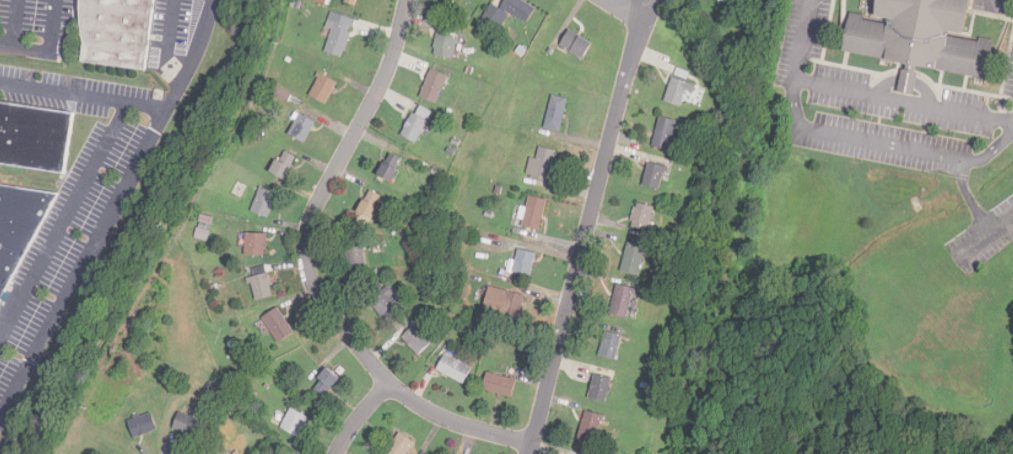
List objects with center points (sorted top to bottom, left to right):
building: (328, 2)
building: (352, 2)
building: (299, 4)
building: (519, 9)
road: (622, 10)
road: (997, 10)
building: (452, 13)
building: (458, 19)
road: (16, 28)
building: (119, 31)
building: (338, 38)
building: (921, 38)
building: (577, 45)
building: (445, 46)
building: (551, 51)
road: (196, 54)
building: (285, 67)
building: (434, 87)
road: (84, 88)
building: (323, 89)
road: (865, 91)
building: (677, 93)
building: (253, 98)
building: (722, 102)
building: (556, 114)
building: (303, 129)
building: (415, 129)
building: (665, 134)
building: (35, 138)
building: (253, 142)
road: (886, 144)
building: (452, 150)
building: (543, 165)
building: (283, 166)
building: (390, 170)
building: (435, 171)
building: (654, 176)
building: (499, 191)
road: (968, 199)
building: (264, 203)
building: (370, 206)
building: (533, 214)
building: (490, 215)
road: (65, 217)
building: (643, 217)
building: (388, 221)
building: (203, 225)
road: (587, 226)
building: (19, 228)
building: (690, 229)
building: (201, 233)
road: (985, 238)
building: (256, 245)
building: (357, 257)
building: (634, 260)
road: (83, 262)
building: (525, 263)
road: (308, 272)
building: (480, 275)
building: (261, 287)
building: (55, 294)
building: (384, 299)
building: (622, 302)
building: (492, 304)
building: (410, 306)
building: (514, 306)
building: (278, 325)
building: (416, 341)
building: (611, 346)
building: (471, 366)
building: (454, 370)
building: (327, 383)
building: (499, 386)
building: (645, 386)
building: (267, 388)
building: (600, 389)
road: (359, 416)
building: (295, 423)
building: (647, 423)
building: (143, 426)
building: (190, 427)
building: (590, 429)
building: (644, 434)
building: (78, 442)
building: (402, 446)
building: (107, 450)
building: (220, 450)
building: (237, 453)

